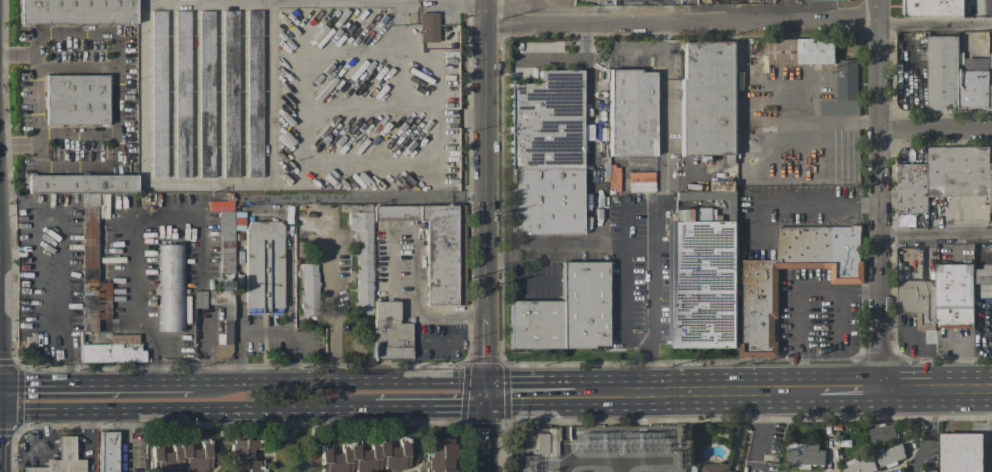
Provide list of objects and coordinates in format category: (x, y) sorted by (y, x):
building: (825, 0)
road: (206, 1)
road: (265, 1)
road: (310, 1)
road: (237, 2)
building: (932, 8)
building: (77, 12)
road: (681, 19)
road: (935, 24)
road: (397, 25)
building: (428, 27)
road: (660, 34)
road: (639, 49)
building: (800, 51)
road: (27, 54)
road: (548, 60)
road: (116, 79)
building: (953, 79)
building: (846, 80)
road: (592, 87)
building: (253, 92)
building: (182, 93)
building: (230, 93)
building: (158, 94)
building: (206, 94)
building: (75, 99)
building: (708, 99)
building: (630, 112)
road: (829, 120)
road: (935, 128)
road: (663, 131)
road: (25, 148)
building: (546, 153)
road: (337, 162)
building: (944, 177)
building: (641, 181)
building: (81, 183)
road: (173, 183)
road: (364, 196)
road: (878, 196)
road: (485, 197)
road: (829, 203)
road: (637, 210)
road: (935, 236)
road: (134, 237)
building: (225, 241)
road: (552, 244)
building: (437, 248)
building: (362, 254)
building: (263, 263)
building: (91, 268)
road: (65, 278)
building: (700, 283)
building: (170, 287)
building: (308, 288)
building: (985, 292)
building: (954, 296)
building: (199, 299)
building: (757, 301)
building: (916, 301)
road: (798, 303)
road: (418, 306)
building: (563, 311)
road: (334, 315)
building: (223, 321)
building: (389, 331)
road: (265, 333)
building: (113, 350)
road: (209, 360)
road: (648, 369)
road: (337, 383)
road: (92, 386)
road: (935, 390)
road: (695, 392)
road: (848, 392)
road: (528, 393)
traffic signals: (485, 394)
road: (425, 406)
road: (180, 410)
road: (760, 431)
road: (485, 433)
building: (881, 433)
road: (930, 433)
road: (88, 441)
building: (541, 443)
road: (31, 444)
power substation: (598, 448)
building: (108, 451)
building: (960, 452)
building: (245, 455)
building: (441, 455)
building: (805, 455)
building: (889, 455)
building: (365, 456)
building: (180, 457)
building: (61, 459)
building: (860, 466)
building: (714, 468)
building: (896, 470)
building: (927, 471)

